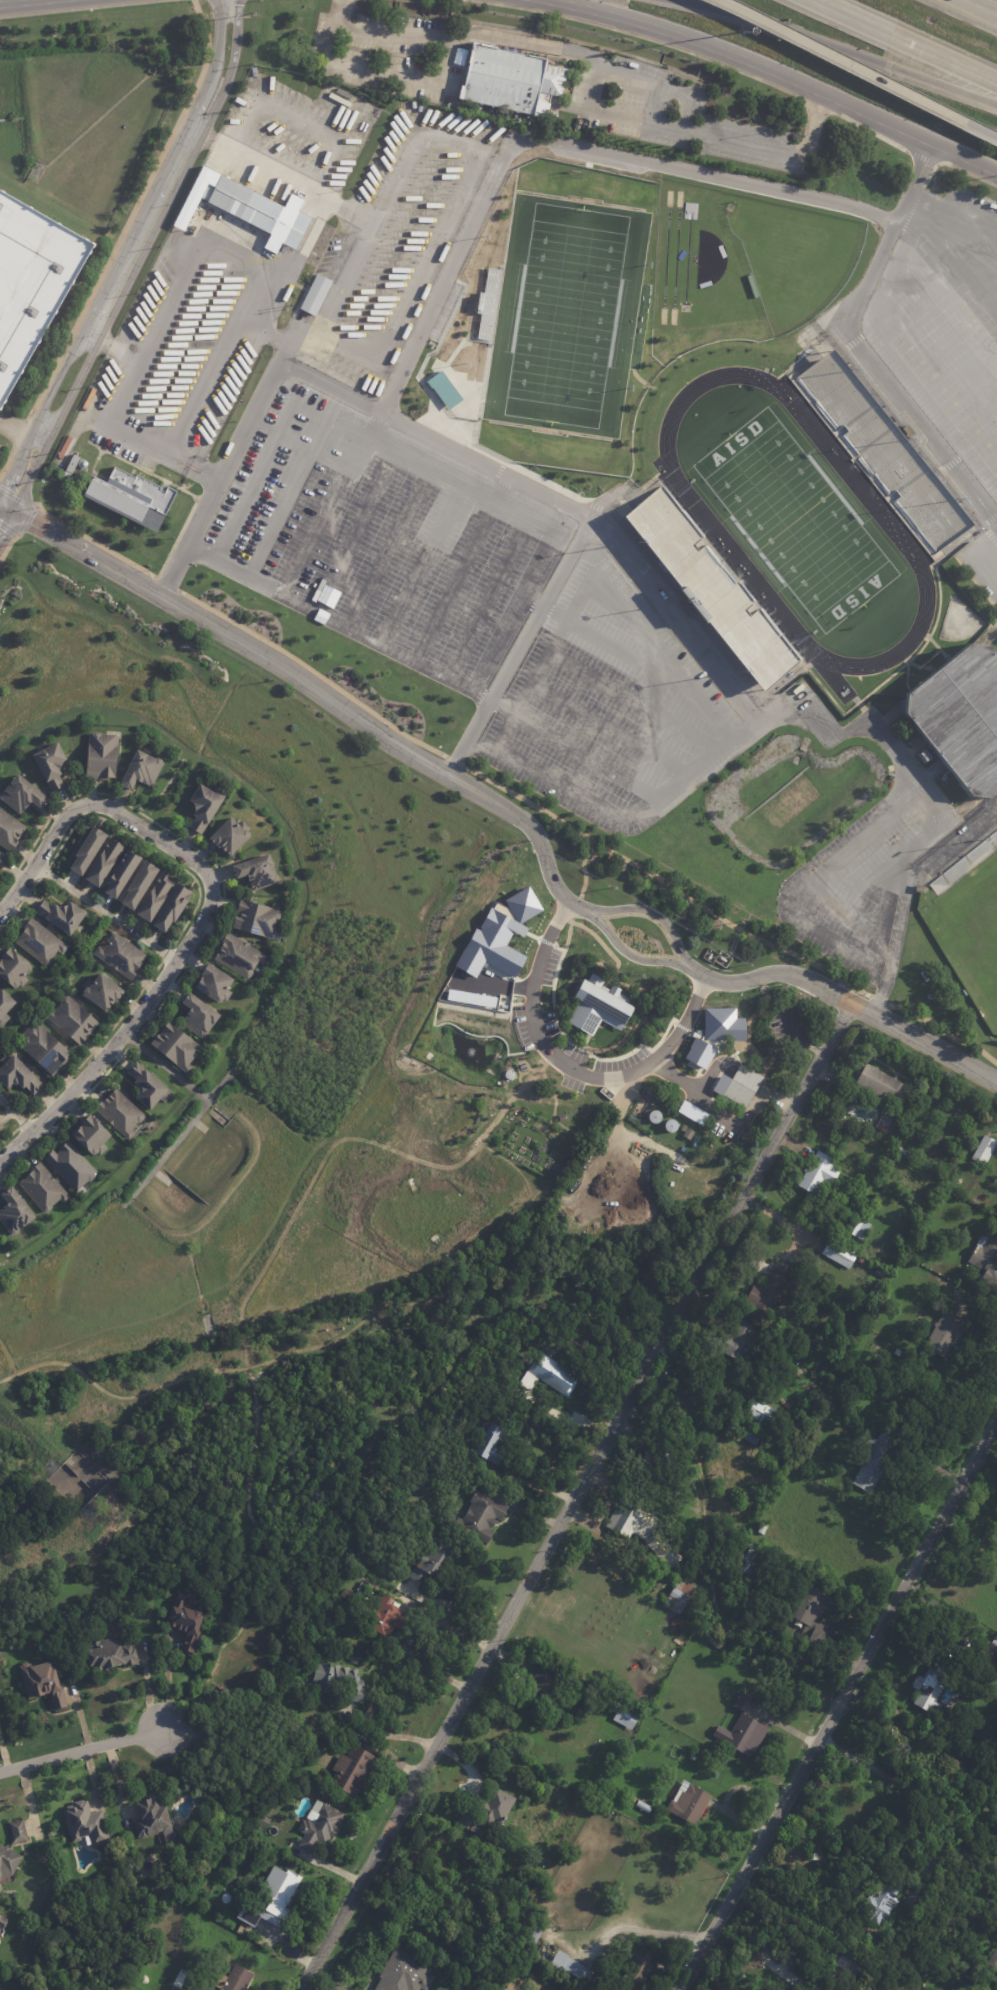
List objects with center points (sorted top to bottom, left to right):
road: (20, 2)
road: (83, 8)
road: (973, 10)
road: (339, 12)
street lamp: (742, 31)
road: (638, 35)
road: (683, 36)
road: (215, 40)
road: (901, 41)
road: (837, 50)
road: (231, 61)
road: (844, 62)
road: (438, 78)
building: (505, 82)
road: (668, 86)
road: (817, 104)
road: (581, 107)
road: (616, 114)
road: (902, 129)
road: (870, 130)
road: (983, 132)
road: (554, 143)
road: (920, 158)
road: (955, 167)
road: (914, 178)
road: (277, 180)
road: (145, 205)
building: (247, 208)
road: (133, 210)
road: (912, 210)
road: (922, 220)
road: (153, 228)
road: (950, 257)
road: (257, 269)
building: (31, 280)
road: (877, 285)
building: (316, 294)
road: (401, 306)
park: (561, 316)
parking lot: (945, 319)
road: (876, 323)
road: (261, 328)
road: (90, 334)
road: (954, 335)
road: (853, 341)
road: (119, 348)
road: (965, 372)
road: (883, 374)
road: (75, 386)
parking lot: (335, 387)
building: (444, 390)
road: (46, 400)
road: (940, 405)
road: (978, 412)
road: (111, 417)
road: (261, 425)
road: (401, 426)
road: (370, 427)
road: (43, 429)
road: (21, 433)
road: (989, 449)
road: (311, 450)
building: (880, 450)
road: (195, 461)
road: (6, 464)
road: (132, 464)
building: (71, 466)
road: (91, 469)
road: (31, 472)
road: (6, 481)
road: (164, 483)
road: (500, 490)
building: (130, 494)
road: (287, 500)
road: (6, 507)
road: (29, 513)
track: (701, 515)
road: (322, 518)
park: (794, 519)
track: (794, 520)
road: (6, 524)
stadium: (801, 526)
road: (181, 528)
road: (353, 533)
road: (94, 542)
road: (545, 543)
road: (7, 545)
road: (982, 546)
road: (386, 550)
road: (996, 563)
parking lot: (983, 564)
road: (421, 567)
road: (166, 583)
road: (453, 583)
building: (709, 588)
road: (649, 597)
road: (487, 600)
road: (529, 601)
road: (610, 604)
building: (686, 610)
road: (516, 647)
road: (617, 649)
road: (544, 659)
road: (313, 672)
road: (691, 688)
road: (317, 691)
road: (477, 696)
road: (631, 700)
building: (963, 716)
road: (607, 728)
road: (844, 730)
road: (570, 749)
building: (96, 754)
road: (454, 761)
building: (46, 765)
building: (137, 769)
road: (338, 788)
building: (17, 794)
building: (199, 805)
road: (618, 818)
building: (7, 831)
building: (226, 834)
road: (179, 838)
road: (148, 847)
road: (910, 848)
building: (89, 849)
road: (183, 855)
building: (1, 857)
building: (105, 862)
building: (963, 863)
road: (582, 868)
building: (253, 870)
road: (43, 872)
building: (123, 873)
road: (814, 876)
road: (898, 879)
road: (664, 883)
building: (140, 884)
building: (920, 889)
road: (903, 890)
building: (156, 897)
road: (18, 904)
road: (843, 906)
building: (174, 907)
road: (575, 909)
road: (105, 913)
building: (56, 914)
road: (658, 917)
building: (253, 918)
road: (1, 929)
park: (970, 934)
building: (498, 935)
road: (531, 935)
road: (597, 939)
road: (546, 942)
road: (877, 945)
building: (31, 946)
road: (883, 953)
building: (121, 954)
road: (166, 955)
building: (234, 955)
road: (635, 958)
road: (589, 959)
building: (10, 968)
road: (772, 973)
road: (481, 983)
building: (209, 984)
road: (522, 989)
building: (103, 991)
road: (878, 999)
building: (3, 1002)
building: (597, 1006)
road: (635, 1007)
building: (194, 1015)
building: (2, 1018)
building: (68, 1019)
road: (682, 1027)
building: (786, 1027)
road: (942, 1030)
road: (695, 1034)
building: (714, 1034)
road: (132, 1040)
road: (584, 1041)
road: (916, 1041)
road: (99, 1043)
road: (616, 1045)
building: (172, 1047)
building: (39, 1048)
road: (579, 1048)
road: (166, 1066)
road: (569, 1067)
road: (711, 1073)
building: (15, 1075)
building: (143, 1084)
building: (738, 1085)
building: (881, 1085)
road: (760, 1091)
road: (697, 1093)
road: (53, 1111)
building: (115, 1111)
road: (68, 1113)
road: (15, 1116)
building: (564, 1117)
building: (728, 1121)
road: (23, 1122)
building: (885, 1122)
building: (1, 1125)
building: (684, 1128)
building: (1, 1130)
road: (183, 1131)
building: (87, 1134)
building: (688, 1134)
road: (9, 1135)
building: (899, 1149)
building: (985, 1150)
building: (904, 1151)
building: (909, 1155)
building: (928, 1160)
building: (66, 1165)
building: (819, 1173)
building: (675, 1178)
road: (753, 1178)
building: (38, 1186)
building: (10, 1211)
building: (859, 1228)
building: (840, 1253)
building: (986, 1258)
building: (790, 1259)
building: (860, 1261)
building: (787, 1266)
building: (880, 1274)
building: (877, 1290)
building: (863, 1291)
building: (769, 1292)
building: (855, 1331)
road: (343, 1334)
building: (946, 1334)
building: (742, 1335)
building: (898, 1353)
road: (652, 1358)
building: (549, 1374)
road: (250, 1386)
building: (787, 1388)
building: (786, 1405)
building: (764, 1415)
building: (751, 1435)
building: (492, 1445)
building: (655, 1459)
building: (874, 1462)
building: (717, 1475)
building: (482, 1516)
building: (635, 1516)
building: (664, 1551)
road: (920, 1557)
building: (431, 1562)
building: (754, 1562)
building: (680, 1597)
building: (816, 1616)
building: (387, 1617)
building: (186, 1623)
road: (413, 1632)
building: (714, 1641)
building: (110, 1652)
building: (989, 1657)
road: (472, 1677)
building: (43, 1682)
building: (339, 1682)
road: (171, 1685)
building: (934, 1685)
building: (540, 1688)
road: (839, 1700)
building: (624, 1715)
building: (744, 1730)
road: (390, 1734)
road: (80, 1750)
road: (4, 1757)
building: (692, 1758)
building: (353, 1772)
road: (919, 1789)
building: (633, 1799)
building: (689, 1802)
building: (643, 1806)
building: (489, 1812)
building: (152, 1816)
building: (261, 1819)
building: (86, 1823)
building: (319, 1826)
road: (757, 1848)
building: (12, 1849)
building: (815, 1855)
building: (271, 1899)
building: (882, 1901)
building: (2, 1921)
building: (532, 1935)
building: (996, 1936)
building: (794, 1952)
building: (994, 1960)
building: (572, 1966)
building: (636, 1972)
building: (404, 1973)
building: (972, 1976)
building: (234, 1979)

